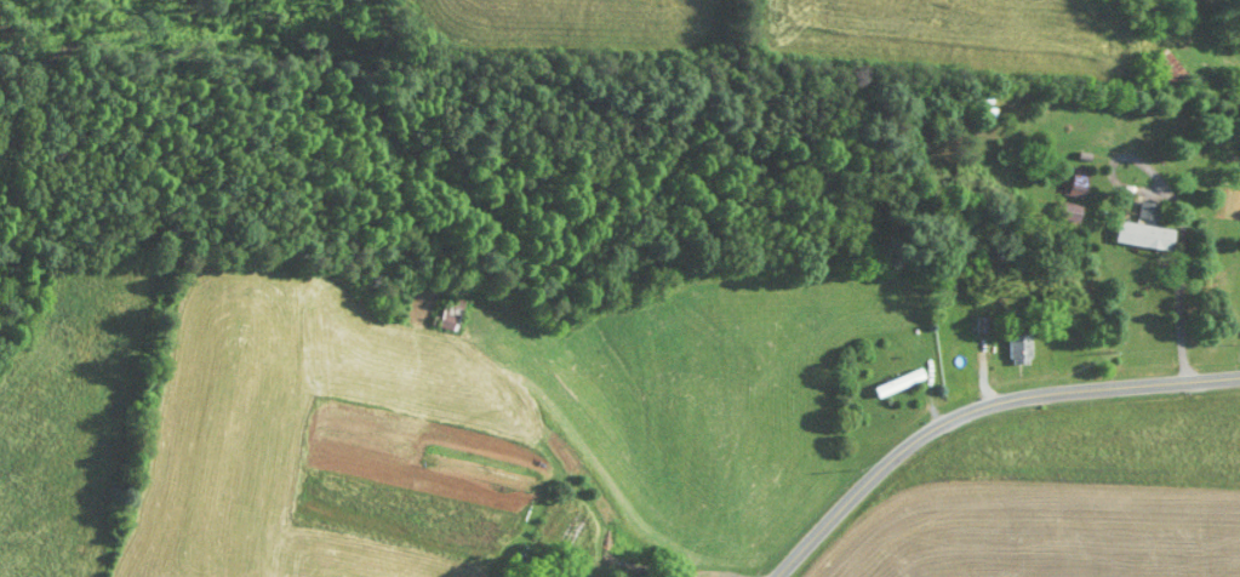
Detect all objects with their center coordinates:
road: (1224, 13)
building: (1161, 70)
building: (1075, 184)
building: (1064, 213)
building: (1148, 213)
building: (1141, 238)
building: (447, 316)
building: (1015, 350)
building: (896, 384)
road: (981, 411)

